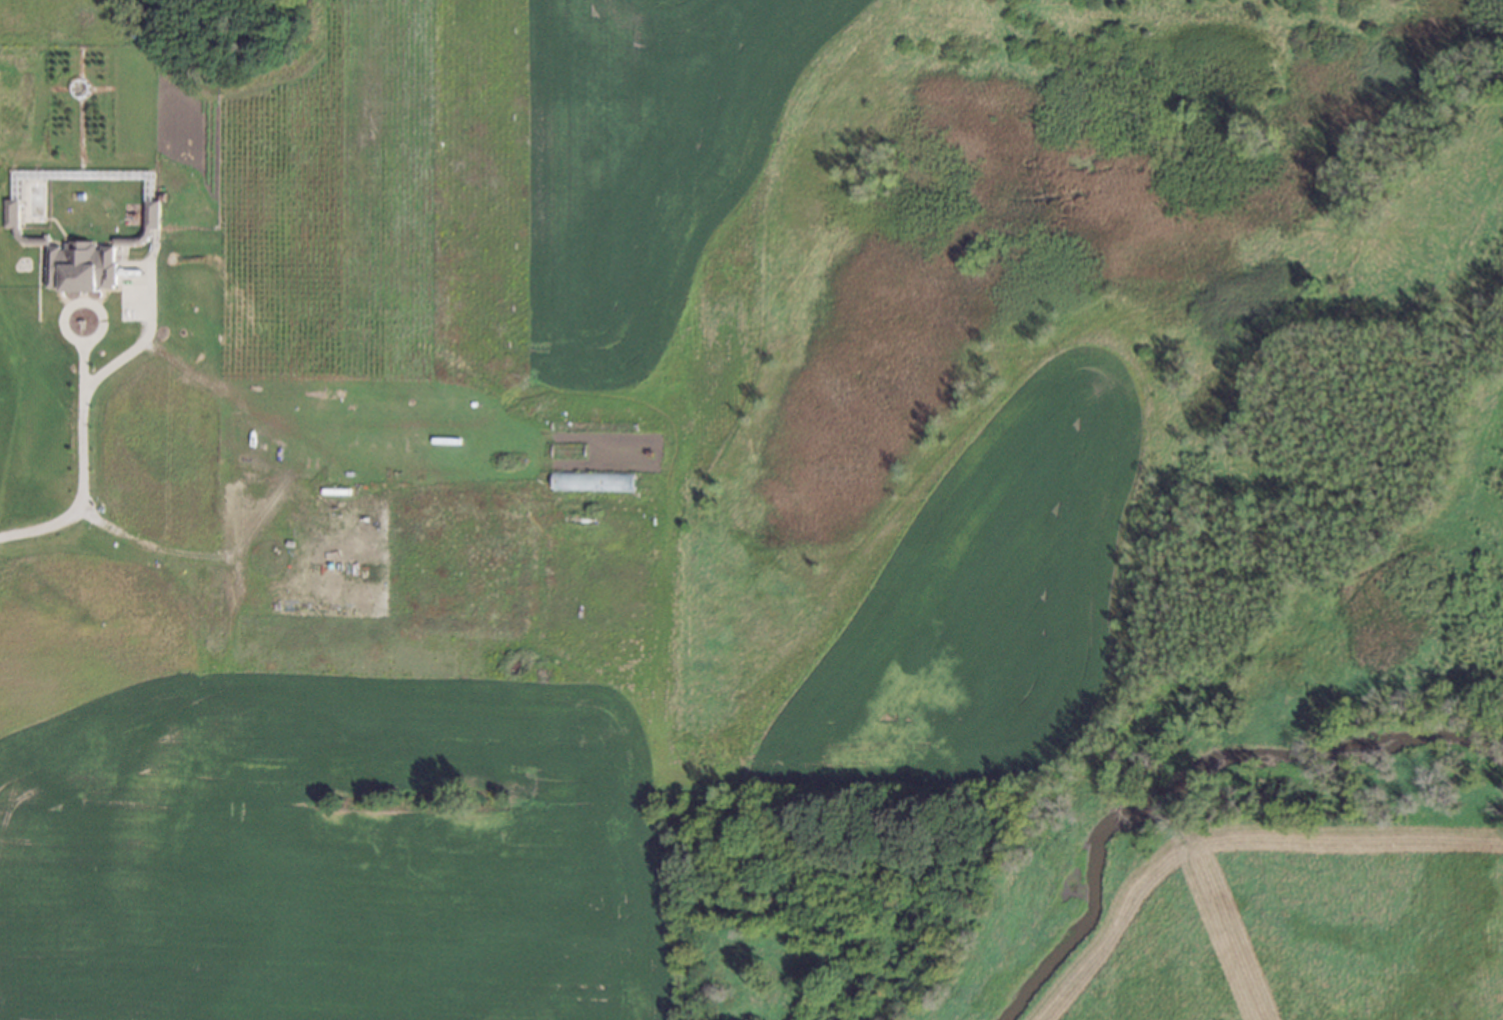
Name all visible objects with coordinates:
building: (161, 194)
building: (7, 211)
building: (151, 211)
building: (80, 264)
road: (78, 415)
river: (1197, 784)

